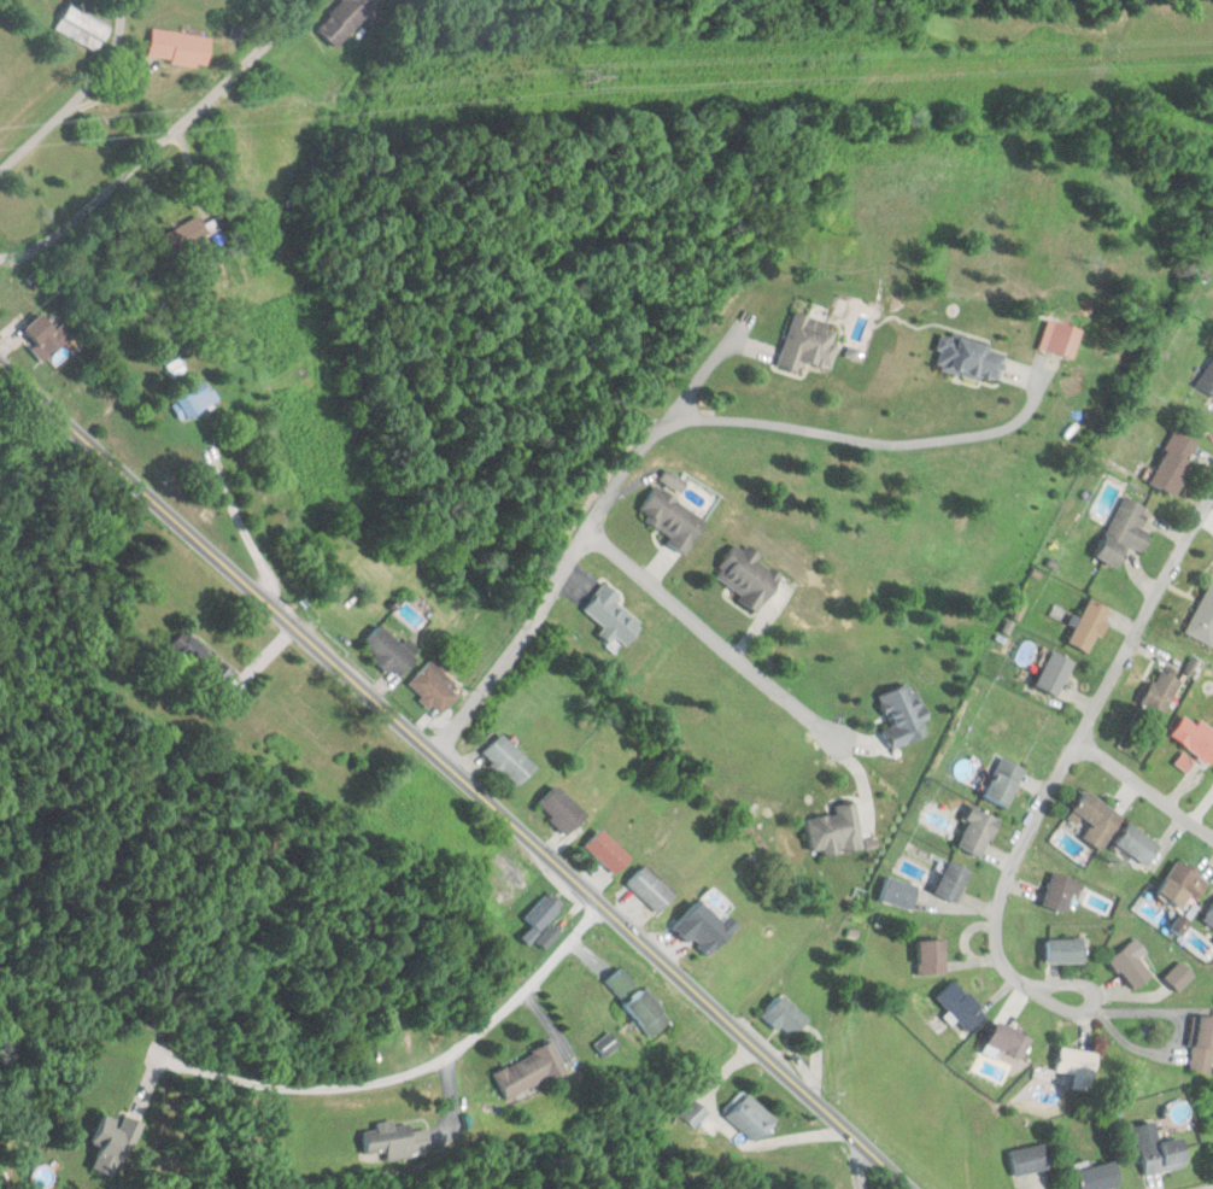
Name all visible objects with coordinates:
building: (344, 18)
building: (82, 27)
building: (178, 46)
power tower: (588, 75)
road: (80, 95)
road: (163, 141)
building: (197, 235)
building: (48, 335)
building: (1061, 338)
building: (809, 342)
building: (971, 358)
building: (1207, 379)
building: (195, 400)
road: (137, 417)
building: (1174, 463)
building: (674, 480)
building: (672, 517)
road: (585, 528)
building: (1125, 531)
building: (748, 576)
building: (613, 616)
building: (1203, 617)
building: (1089, 625)
road: (710, 637)
building: (1054, 673)
building: (435, 686)
building: (1161, 692)
building: (903, 716)
road: (1074, 736)
building: (1195, 739)
building: (509, 760)
road: (456, 773)
building: (1003, 783)
road: (1142, 790)
building: (562, 809)
building: (1097, 820)
building: (836, 831)
building: (977, 832)
building: (1137, 844)
building: (608, 851)
building: (953, 881)
building: (1182, 886)
building: (651, 889)
building: (897, 894)
building: (1060, 894)
building: (545, 912)
building: (1208, 916)
building: (1065, 950)
building: (931, 953)
building: (1131, 965)
building: (1177, 976)
building: (621, 982)
road: (1091, 1001)
building: (961, 1004)
building: (649, 1013)
building: (786, 1015)
building: (1009, 1041)
building: (1202, 1041)
building: (608, 1044)
building: (1071, 1060)
road: (426, 1065)
building: (531, 1072)
building: (696, 1113)
building: (749, 1120)
building: (395, 1141)
building: (111, 1143)
building: (1159, 1150)
building: (1030, 1160)
road: (860, 1164)
building: (1097, 1177)
road: (1211, 1188)

